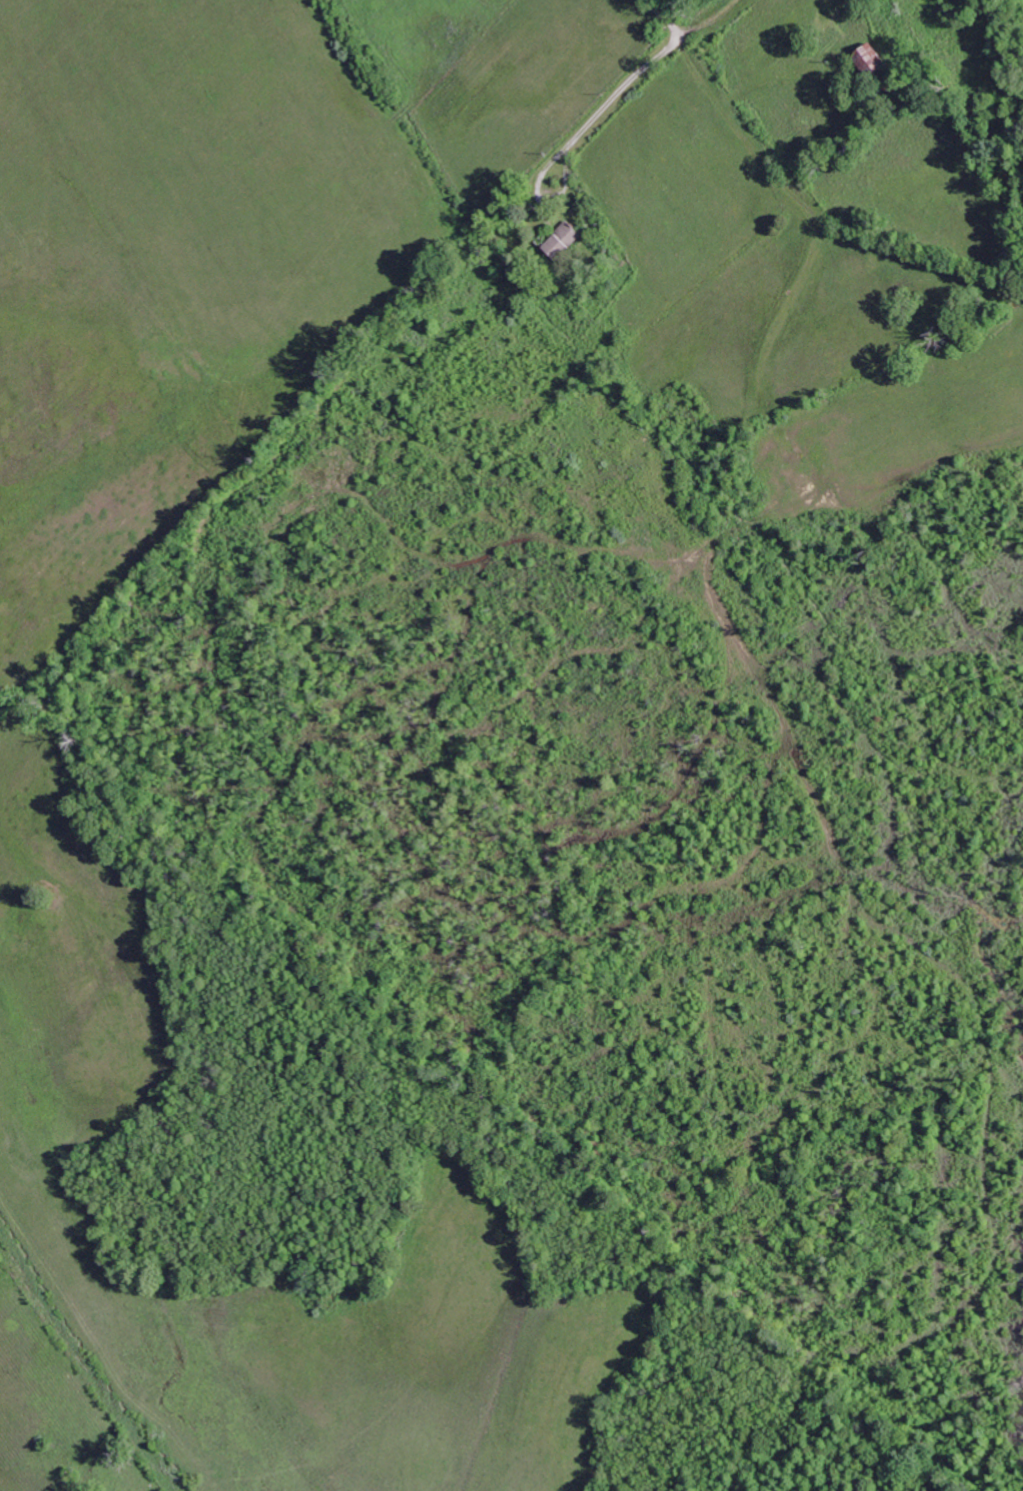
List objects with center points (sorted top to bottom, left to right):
road: (736, 22)
building: (567, 240)

